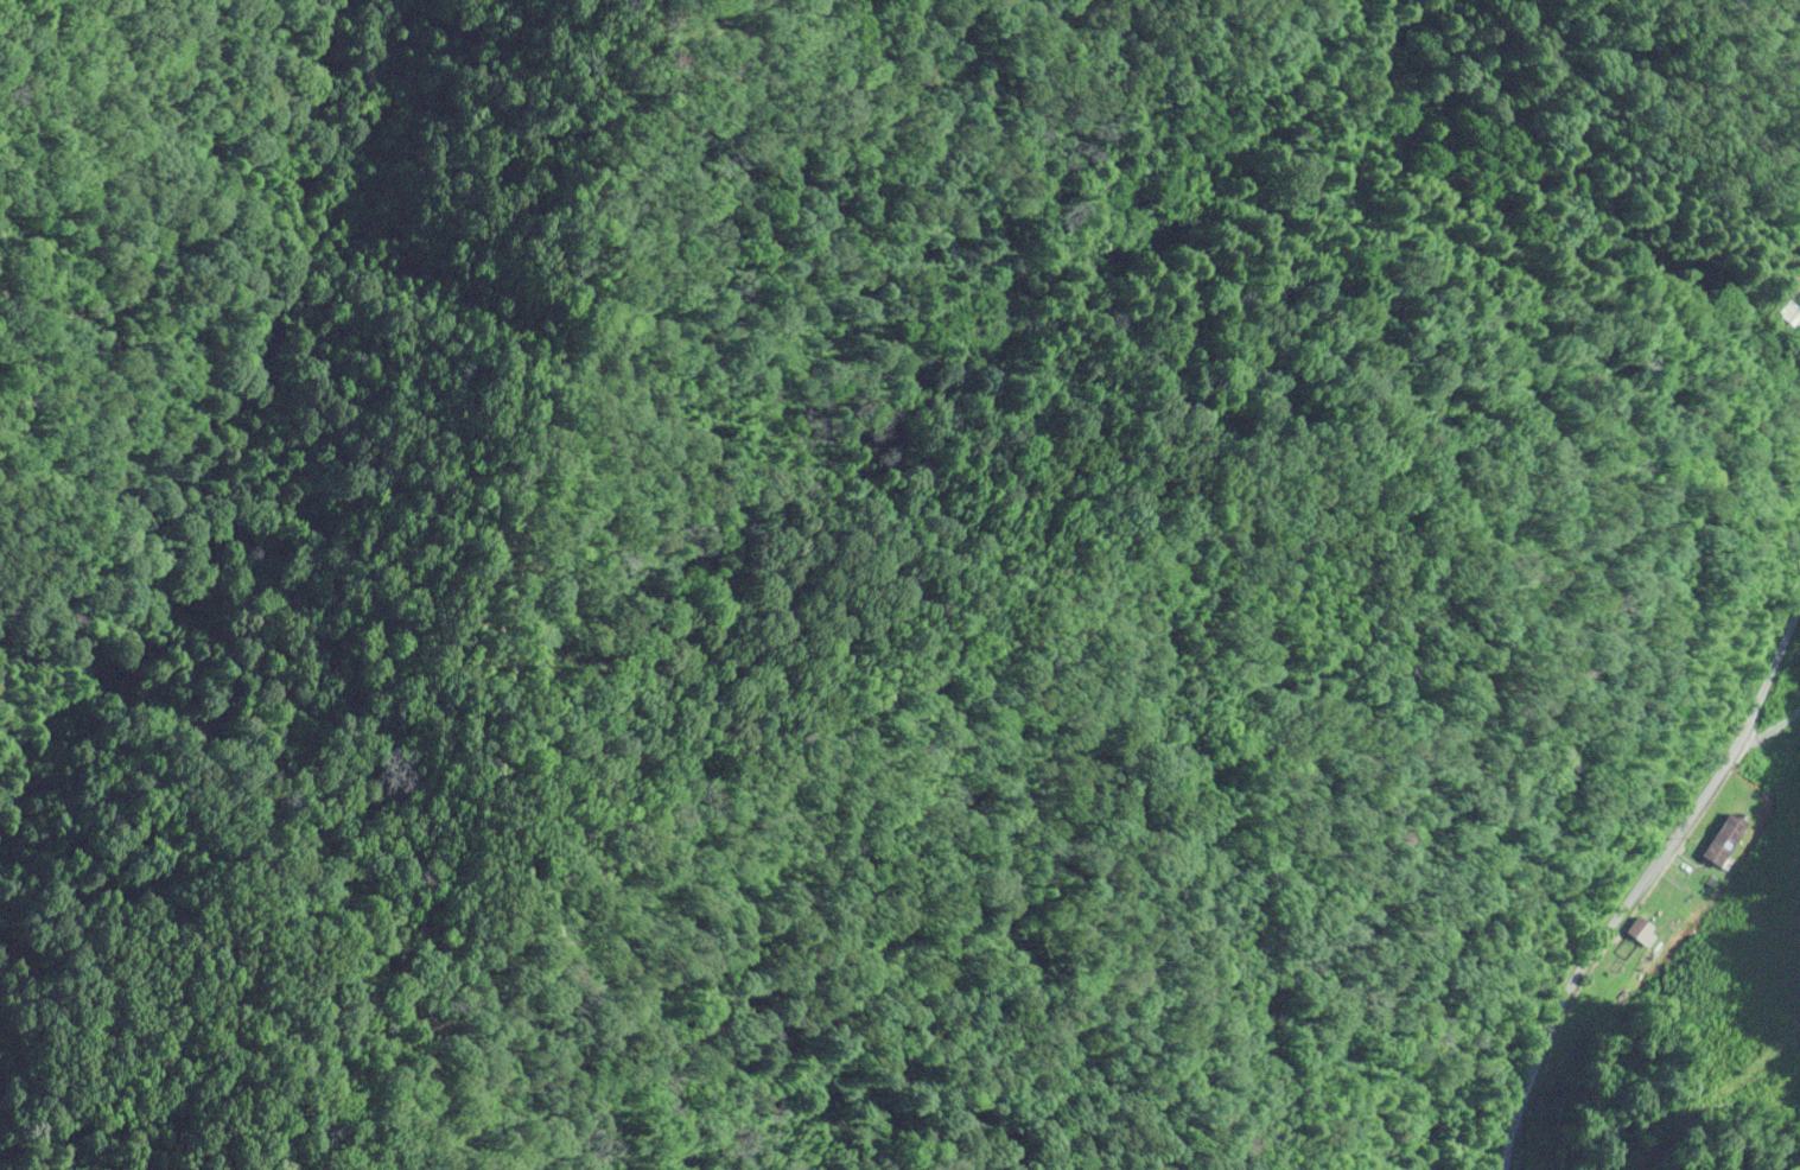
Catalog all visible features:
building: (1791, 312)
road: (1655, 917)

